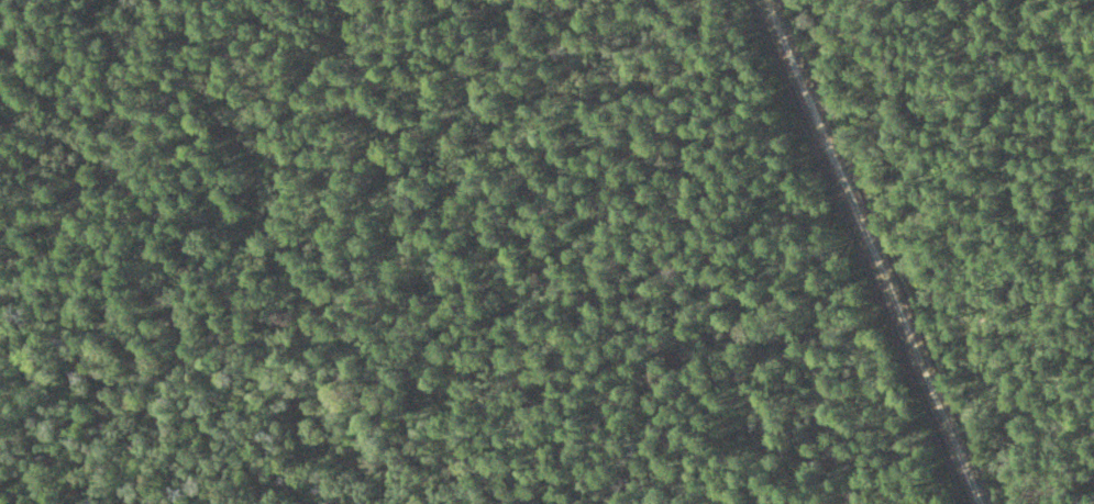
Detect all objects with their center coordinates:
road: (875, 251)

